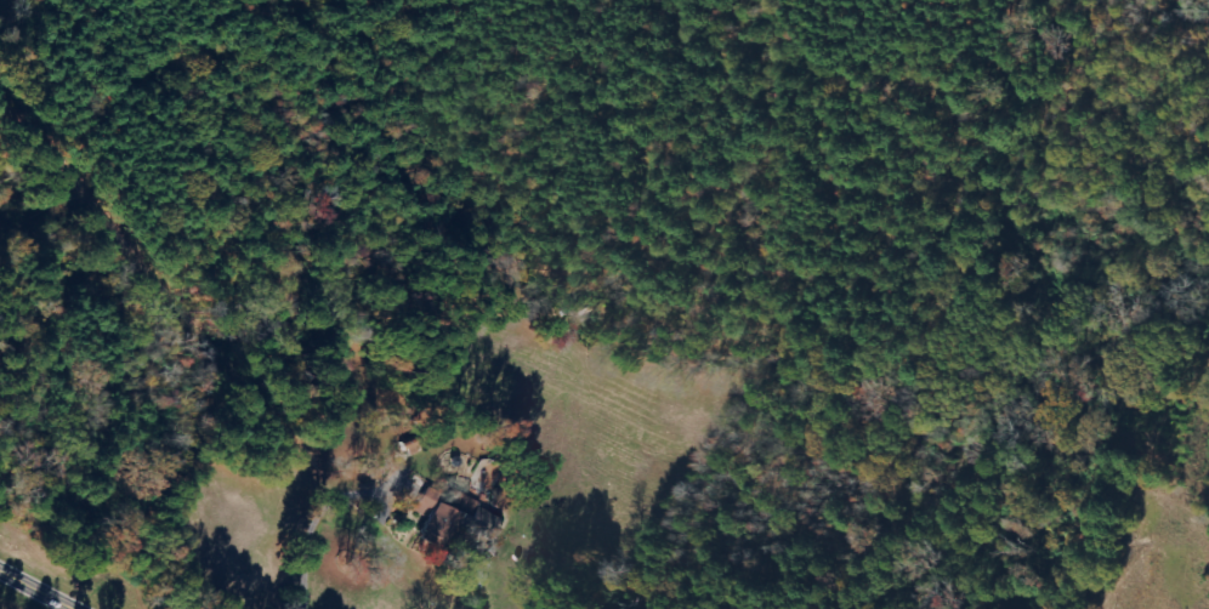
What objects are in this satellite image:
road: (38, 30)
building: (450, 517)
road: (38, 587)

